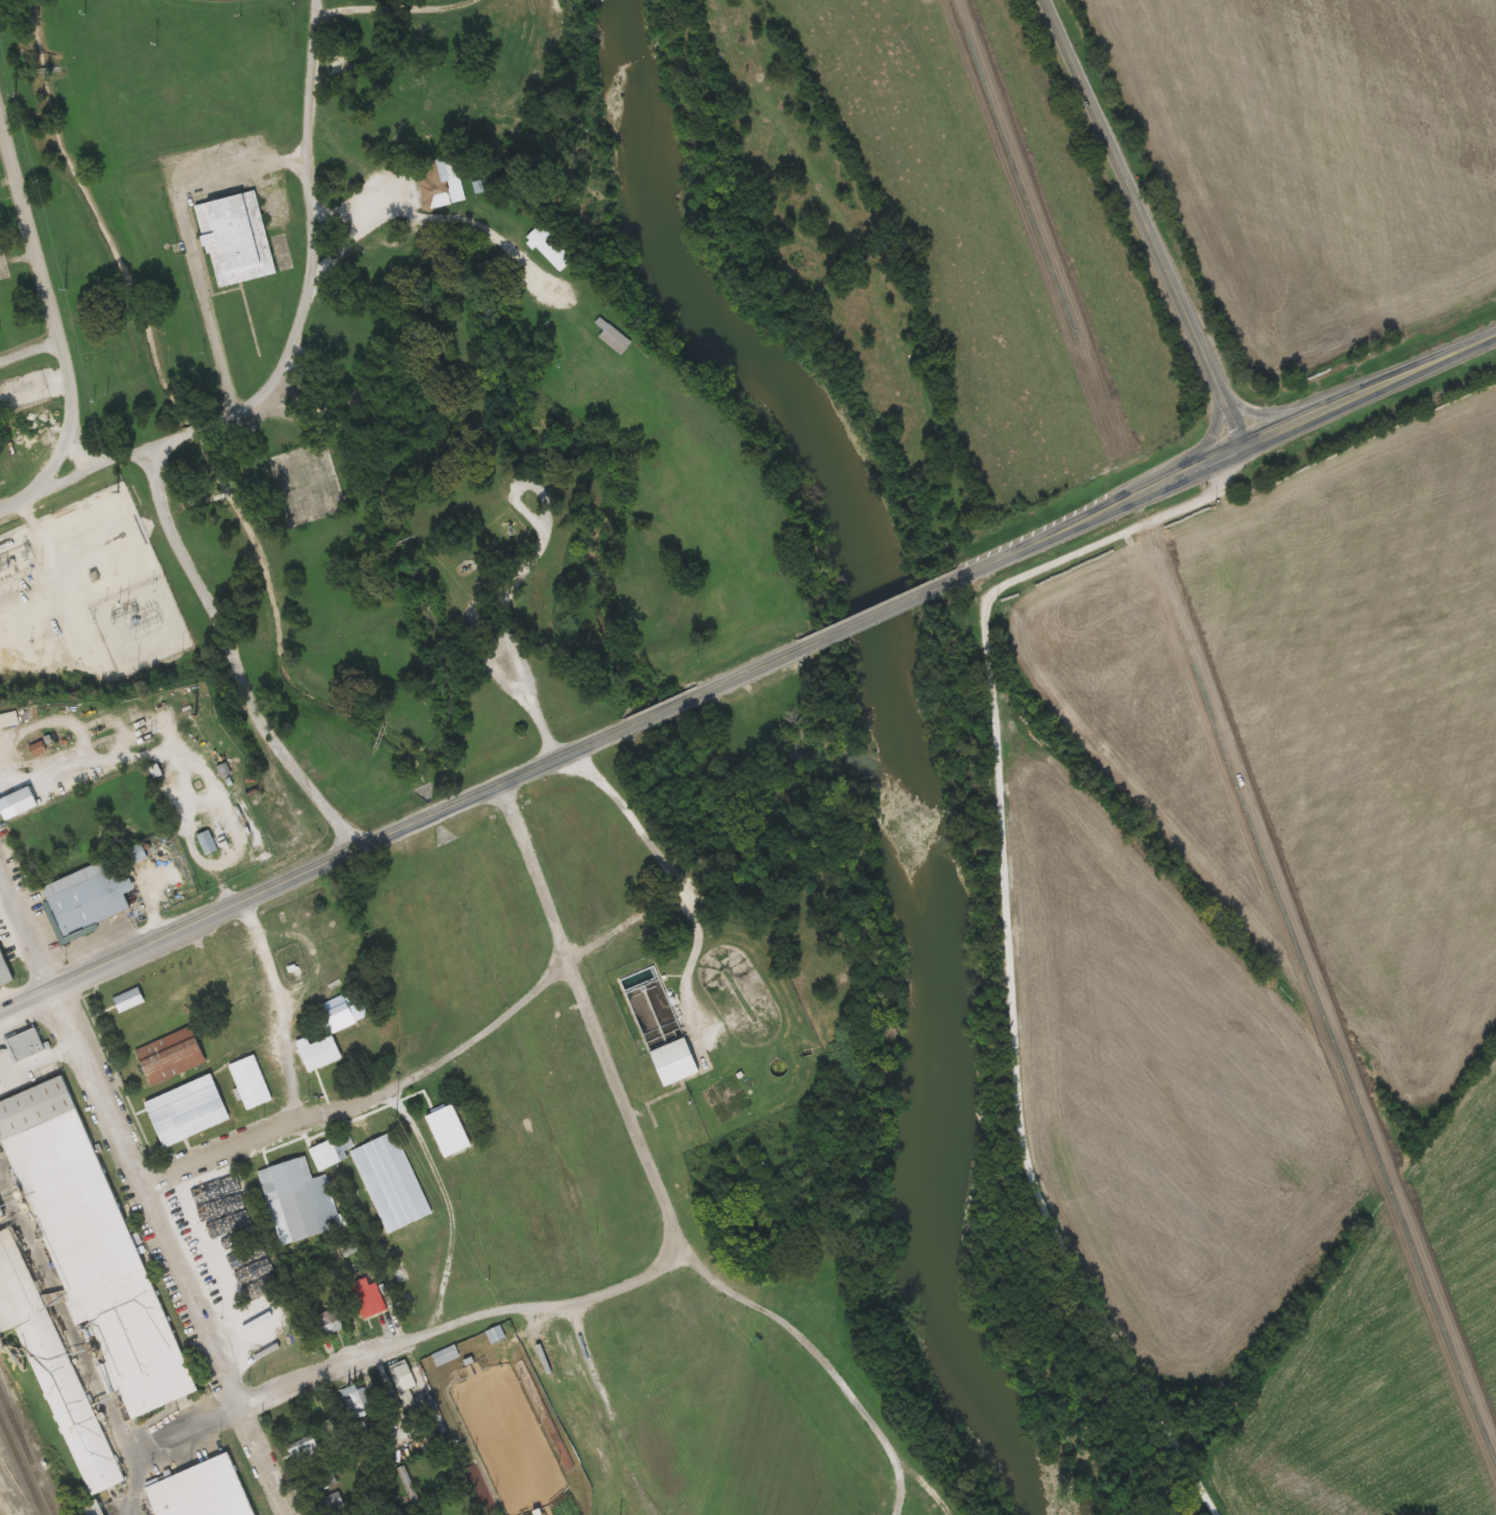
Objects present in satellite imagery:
power tower: (13, 95)
building: (448, 183)
road: (311, 212)
road: (1144, 221)
building: (242, 238)
building: (558, 248)
power tower: (61, 289)
road: (46, 298)
road: (30, 361)
road: (154, 438)
road: (1228, 450)
power tower: (114, 491)
road: (32, 492)
power substation: (83, 596)
road: (882, 612)
road: (751, 672)
road: (663, 711)
power tower: (193, 714)
building: (9, 720)
river: (909, 732)
building: (38, 749)
building: (27, 805)
road: (436, 811)
building: (208, 844)
road: (679, 879)
building: (87, 900)
road: (25, 928)
road: (1015, 930)
road: (124, 951)
building: (6, 968)
building: (646, 990)
building: (347, 1016)
building: (28, 1044)
building: (323, 1053)
building: (173, 1055)
building: (682, 1061)
building: (252, 1083)
road: (90, 1088)
road: (288, 1096)
building: (190, 1111)
power tower: (394, 1117)
building: (452, 1131)
building: (387, 1179)
building: (300, 1201)
building: (80, 1280)
building: (366, 1298)
road: (528, 1307)
building: (331, 1321)
road: (67, 1326)
building: (495, 1334)
road: (207, 1352)
building: (444, 1356)
road: (241, 1400)
building: (304, 1451)
railway: (27, 1454)
railway: (21, 1466)
building: (208, 1491)
building: (97, 1509)

